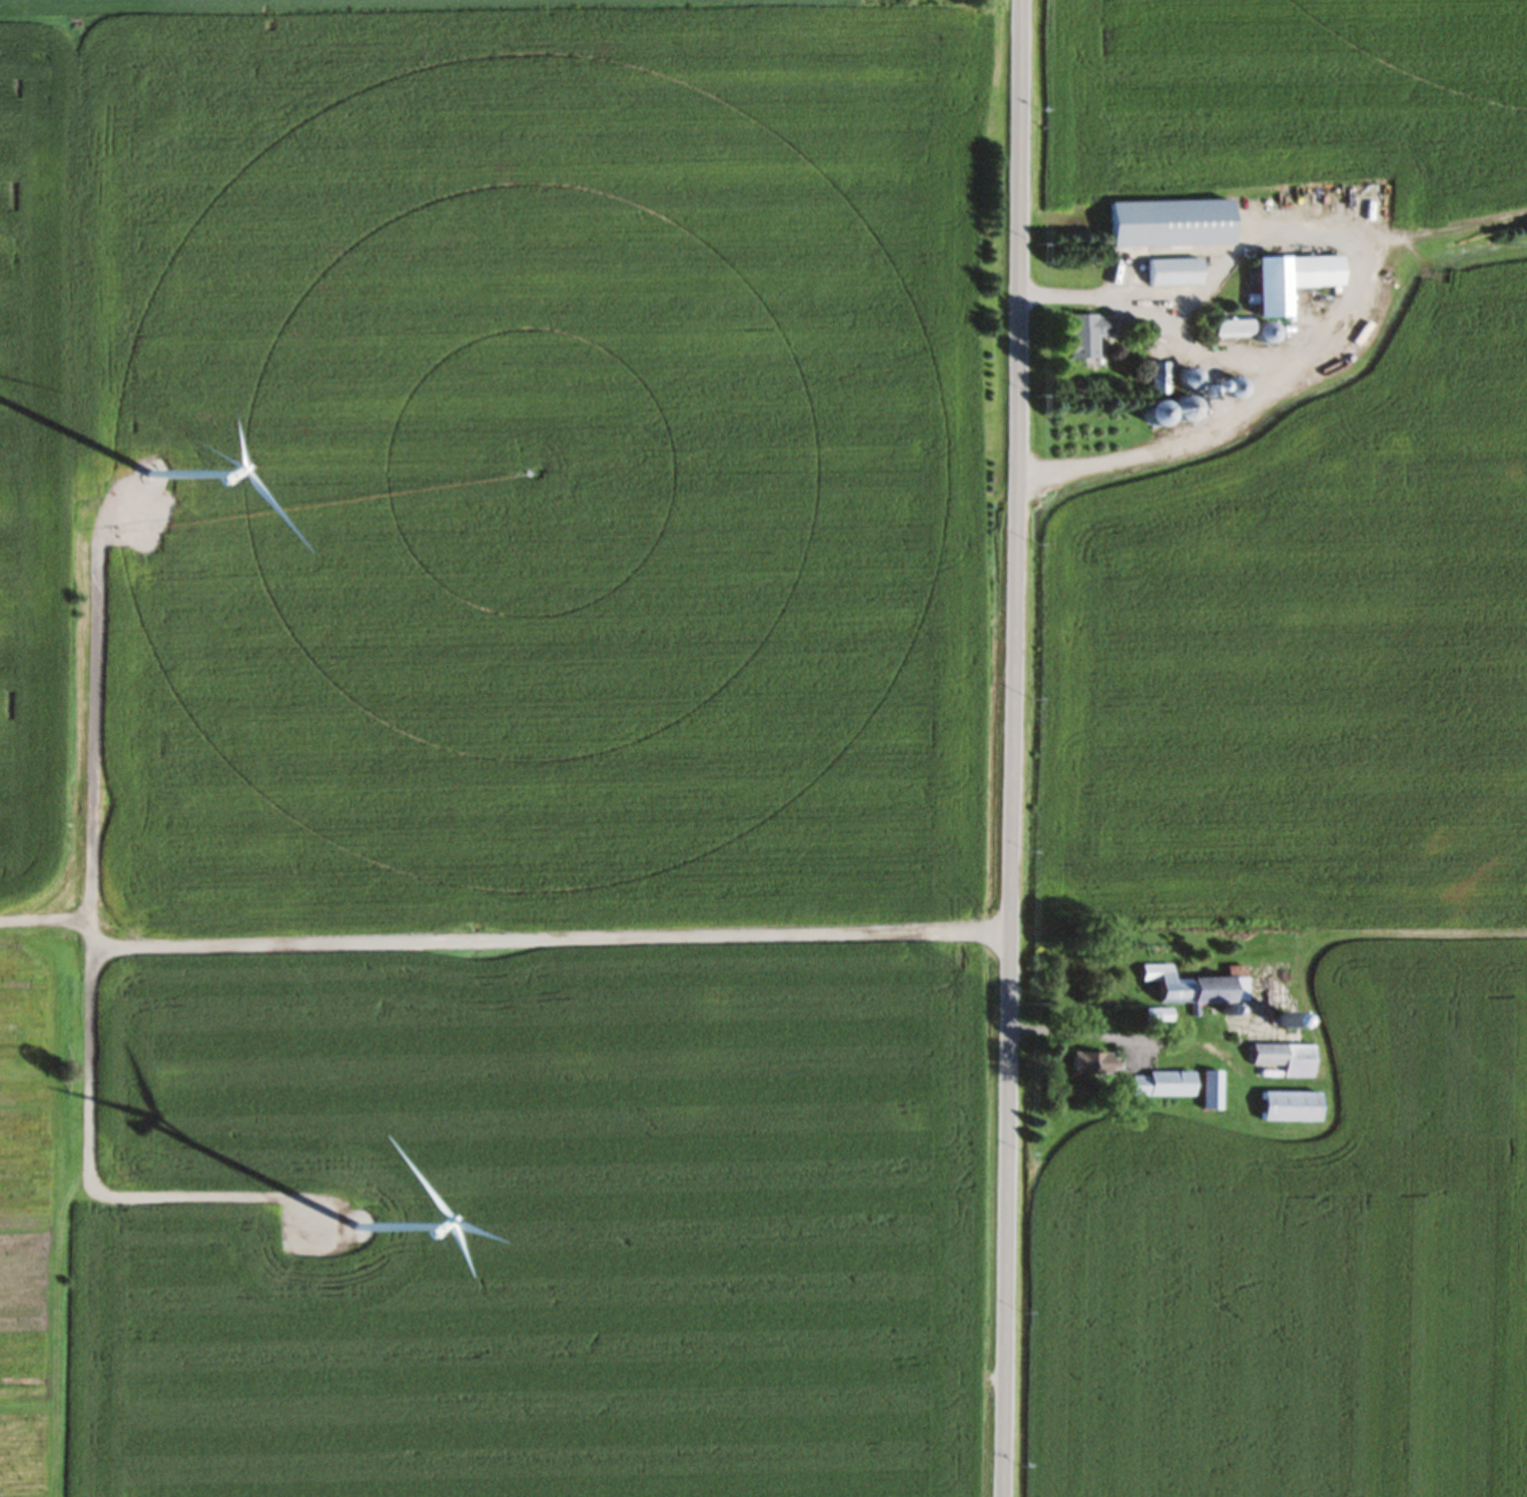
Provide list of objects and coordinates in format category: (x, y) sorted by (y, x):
building: (1170, 227)
building: (1172, 276)
building: (1292, 284)
building: (1085, 341)
road: (1256, 380)
building: (1157, 382)
building: (1182, 406)
building: (154, 480)
wind turbine: (145, 482)
road: (1008, 748)
road: (44, 923)
road: (1346, 936)
road: (545, 945)
road: (87, 967)
building: (1190, 992)
road: (1068, 1039)
building: (1283, 1063)
building: (1160, 1088)
building: (1208, 1095)
building: (1288, 1111)
crop: (28, 1221)
crop: (540, 1228)
wind turbine: (352, 1230)

